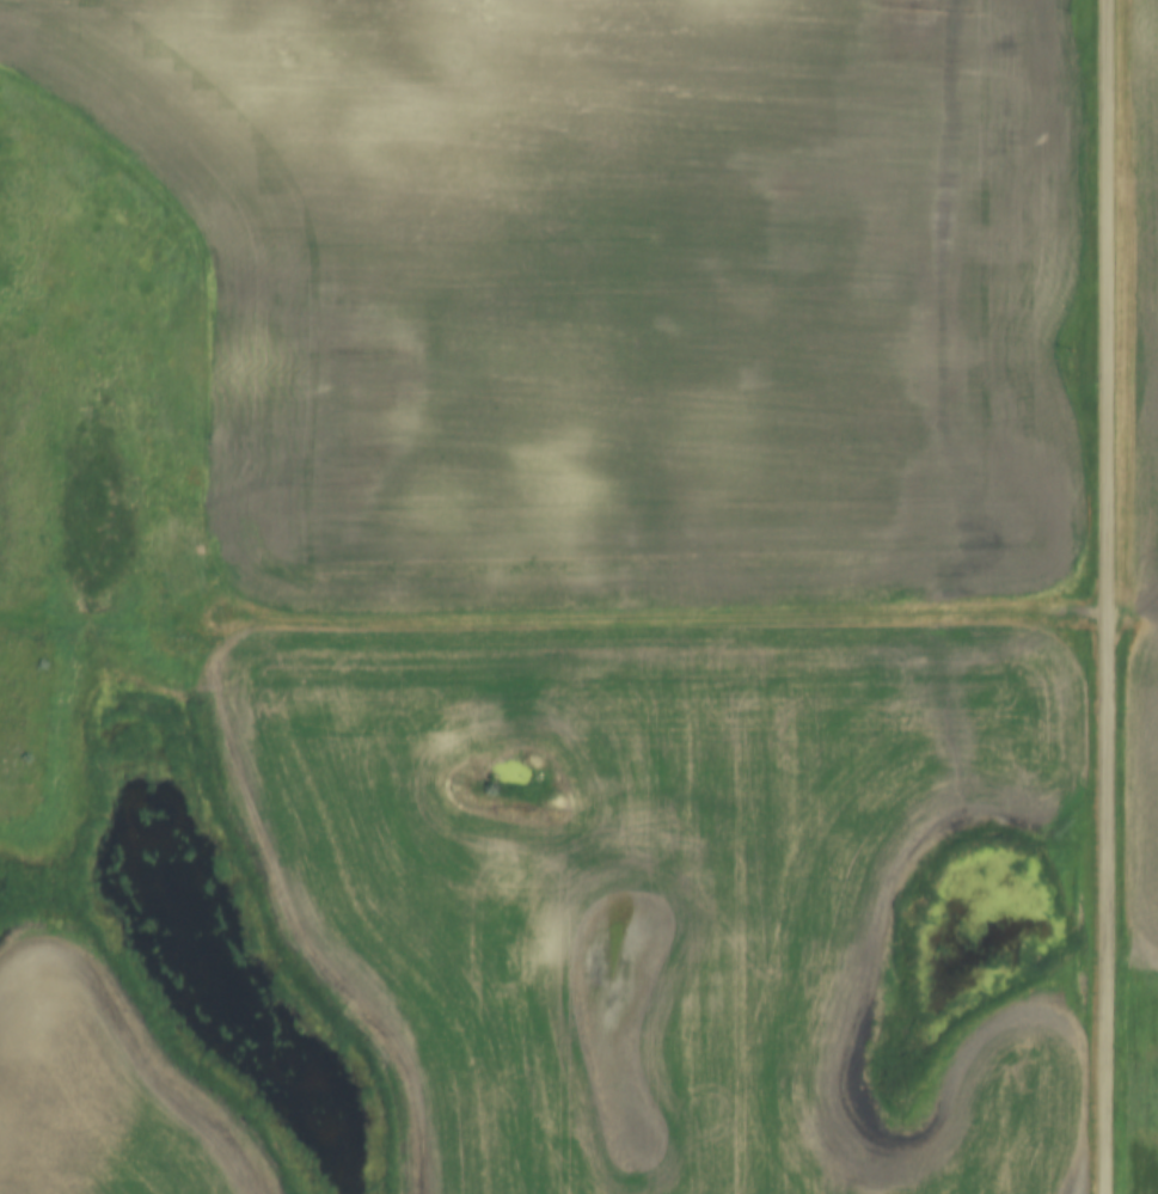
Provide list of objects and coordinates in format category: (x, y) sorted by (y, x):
road: (1115, 596)
road: (557, 632)

